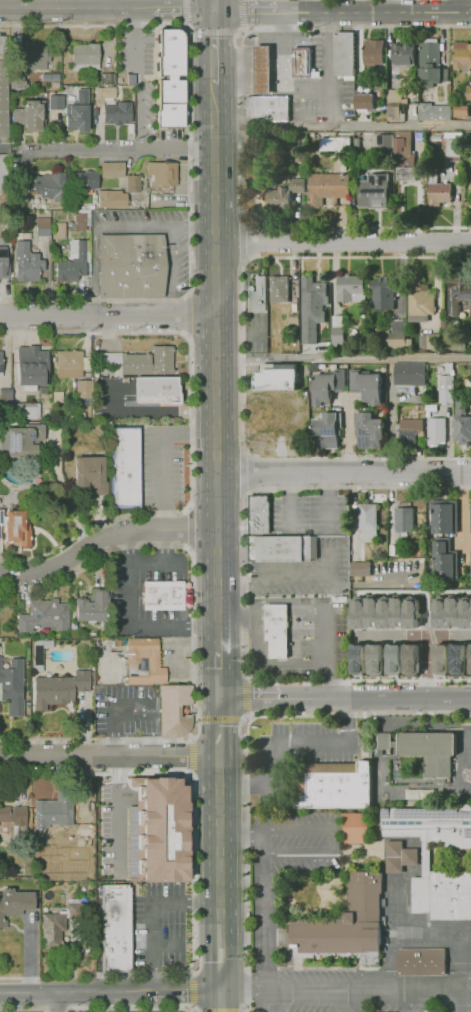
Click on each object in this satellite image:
road: (39, 4)
road: (106, 5)
road: (213, 5)
road: (306, 5)
road: (389, 6)
road: (106, 10)
road: (185, 11)
traffic signals: (213, 11)
road: (342, 11)
road: (242, 12)
road: (212, 30)
road: (134, 42)
road: (213, 47)
road: (247, 49)
building: (373, 51)
building: (170, 52)
building: (430, 53)
building: (341, 54)
building: (37, 57)
building: (85, 57)
building: (462, 57)
building: (403, 58)
building: (300, 62)
road: (327, 62)
road: (281, 69)
building: (259, 70)
gas station: (259, 70)
building: (107, 78)
building: (428, 78)
building: (16, 83)
road: (239, 83)
building: (469, 91)
building: (107, 92)
building: (2, 100)
building: (55, 100)
building: (365, 101)
building: (169, 102)
building: (393, 103)
building: (267, 106)
building: (111, 112)
road: (140, 113)
building: (433, 113)
building: (460, 113)
building: (17, 114)
building: (32, 114)
building: (78, 117)
road: (241, 119)
road: (342, 126)
building: (433, 135)
building: (336, 144)
building: (363, 145)
building: (384, 147)
building: (402, 148)
building: (452, 149)
road: (123, 152)
building: (112, 169)
building: (163, 173)
building: (417, 174)
building: (2, 176)
building: (83, 179)
park: (251, 179)
building: (135, 182)
building: (328, 184)
building: (22, 187)
building: (50, 187)
building: (374, 191)
building: (286, 193)
building: (433, 194)
building: (112, 199)
building: (82, 222)
building: (42, 225)
road: (242, 238)
road: (342, 244)
building: (77, 247)
road: (188, 251)
building: (27, 261)
building: (2, 263)
building: (131, 267)
building: (69, 270)
building: (278, 288)
building: (350, 288)
building: (460, 290)
building: (382, 293)
building: (257, 296)
building: (419, 299)
building: (312, 308)
road: (107, 314)
road: (187, 315)
building: (337, 329)
building: (396, 337)
building: (431, 341)
building: (457, 341)
road: (241, 355)
building: (107, 358)
road: (343, 359)
building: (149, 361)
building: (69, 363)
building: (1, 364)
building: (32, 365)
road: (215, 366)
building: (448, 366)
building: (410, 374)
building: (277, 379)
building: (368, 386)
building: (326, 387)
building: (83, 388)
building: (27, 389)
building: (445, 389)
building: (157, 390)
building: (5, 395)
building: (420, 399)
building: (26, 410)
road: (154, 411)
building: (463, 422)
building: (411, 424)
road: (189, 426)
building: (326, 431)
building: (371, 432)
building: (435, 432)
road: (346, 436)
building: (25, 440)
building: (126, 467)
road: (243, 471)
road: (343, 472)
building: (92, 473)
road: (64, 495)
road: (329, 501)
road: (460, 514)
building: (260, 515)
building: (443, 519)
building: (402, 520)
building: (367, 521)
building: (0, 528)
building: (18, 528)
road: (189, 528)
road: (104, 539)
building: (283, 550)
building: (444, 561)
road: (160, 563)
building: (470, 566)
building: (360, 569)
road: (280, 576)
road: (244, 585)
building: (163, 595)
building: (468, 596)
road: (310, 601)
building: (90, 607)
building: (384, 612)
building: (452, 612)
building: (44, 614)
building: (416, 615)
road: (127, 624)
building: (276, 630)
building: (469, 635)
road: (192, 640)
building: (413, 655)
building: (470, 657)
building: (394, 659)
building: (440, 659)
road: (176, 660)
building: (375, 660)
building: (133, 661)
building: (361, 661)
building: (451, 662)
road: (218, 672)
building: (60, 687)
building: (13, 689)
road: (244, 695)
traffic signals: (219, 696)
road: (344, 697)
road: (112, 704)
building: (175, 710)
road: (358, 713)
road: (218, 718)
road: (149, 722)
road: (218, 725)
building: (385, 741)
road: (286, 744)
park: (464, 746)
building: (429, 750)
road: (189, 754)
road: (109, 755)
road: (94, 773)
building: (333, 785)
road: (115, 808)
building: (18, 818)
building: (50, 820)
building: (432, 824)
road: (219, 827)
building: (356, 828)
building: (161, 829)
road: (240, 831)
building: (80, 840)
road: (333, 842)
building: (400, 855)
road: (244, 861)
road: (192, 873)
building: (443, 893)
building: (14, 904)
road: (263, 911)
road: (150, 914)
building: (344, 924)
building: (52, 927)
building: (121, 932)
park: (428, 934)
road: (210, 947)
road: (230, 947)
building: (422, 962)
road: (96, 975)
road: (455, 977)
road: (192, 990)
traffic signals: (221, 992)
road: (336, 992)
road: (182, 993)
road: (71, 994)
road: (221, 1001)
road: (451, 1001)
road: (261, 1002)
road: (55, 1003)
road: (96, 1007)
road: (191, 1007)
road: (44, 1010)
road: (222, 1011)

